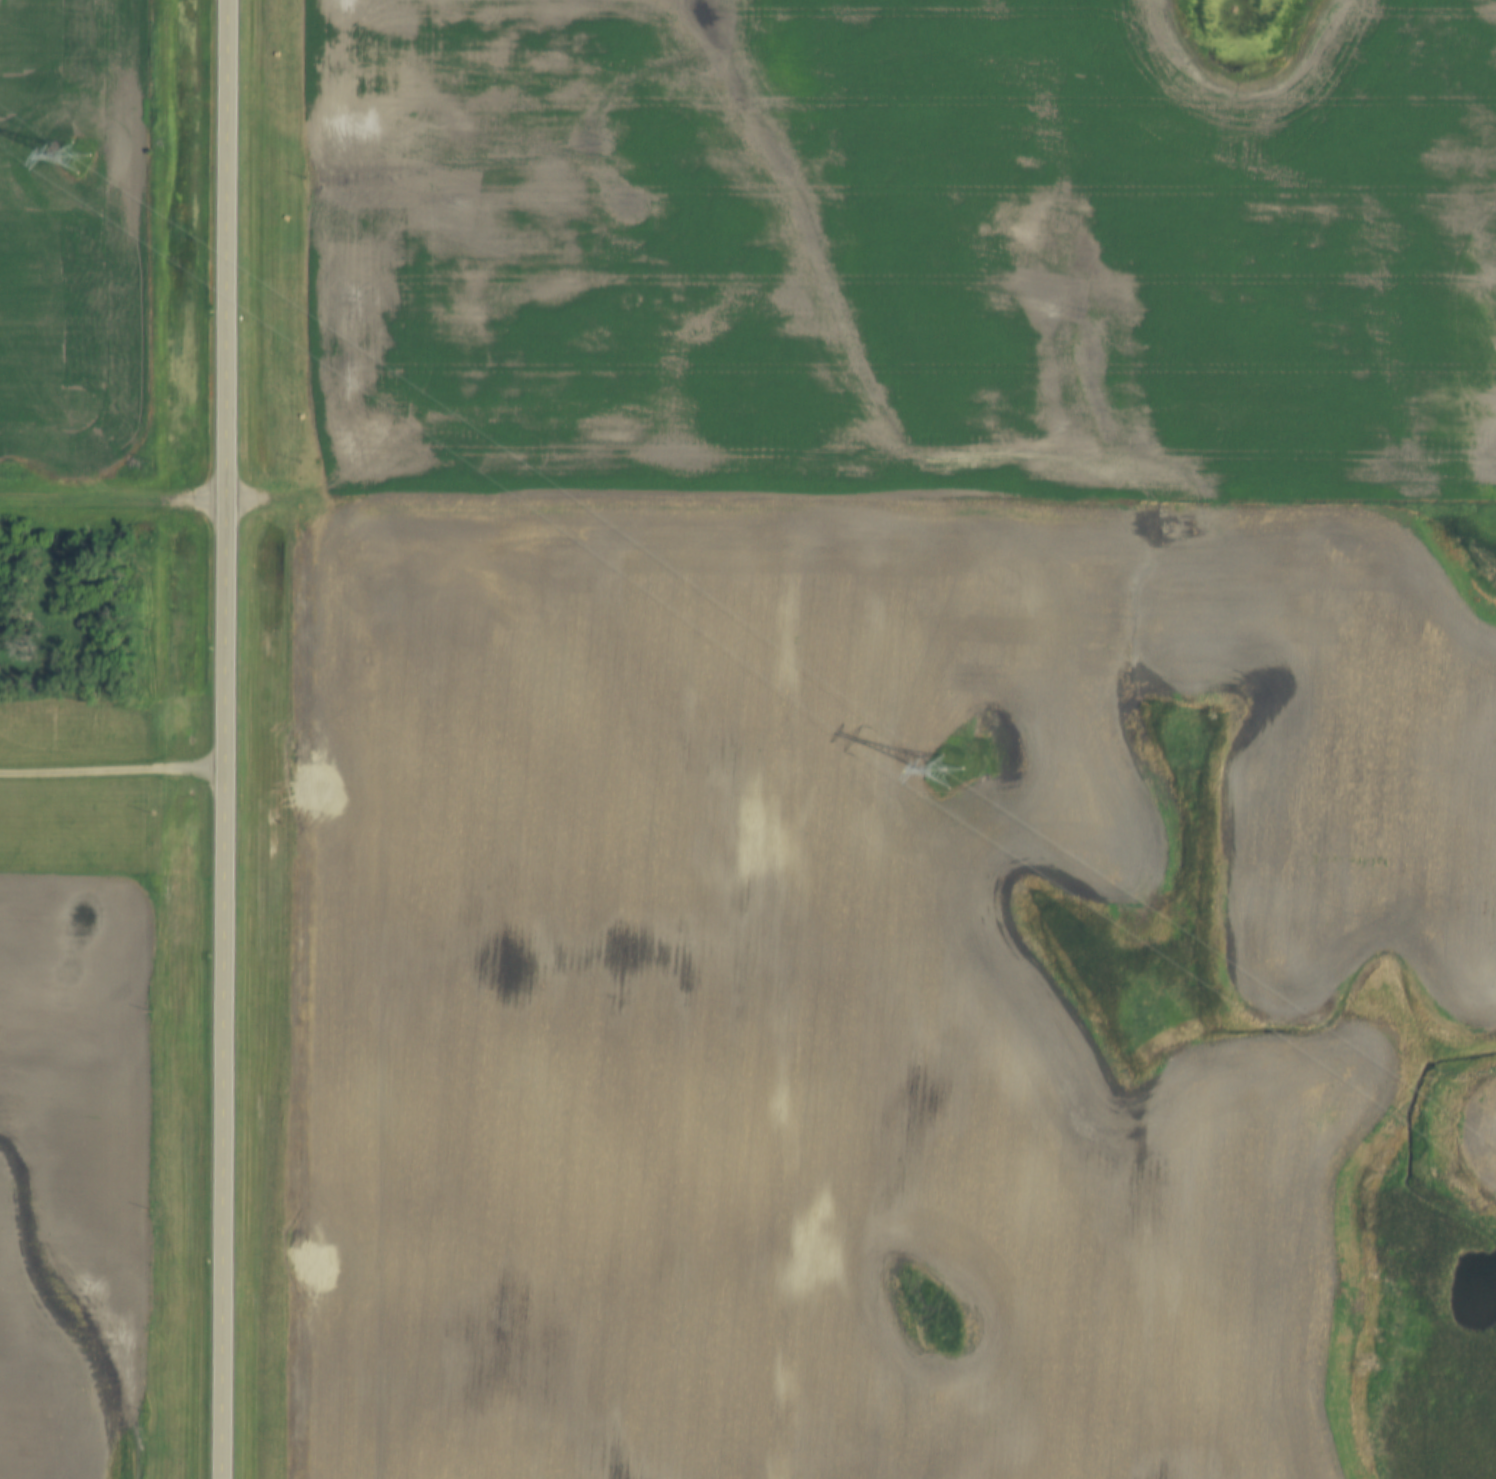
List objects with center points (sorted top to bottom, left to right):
power tower: (80, 157)
road: (115, 502)
road: (228, 739)
road: (113, 773)
power tower: (930, 773)

